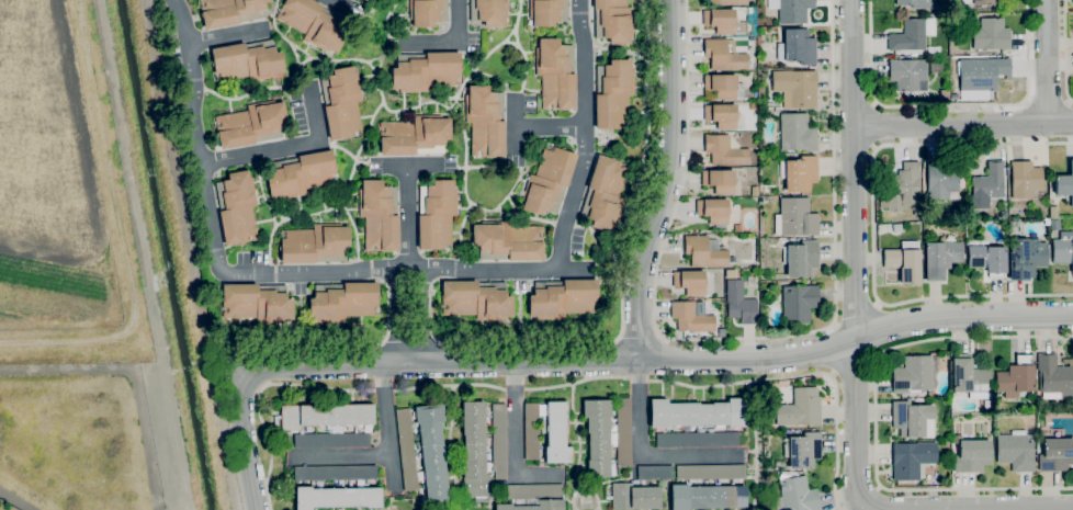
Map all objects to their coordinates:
building: (364, 0)
building: (365, 0)
road: (334, 2)
building: (728, 2)
building: (983, 2)
building: (916, 3)
road: (589, 9)
building: (749, 10)
building: (230, 11)
building: (793, 11)
building: (492, 12)
building: (547, 12)
building: (428, 13)
building: (613, 21)
building: (723, 21)
building: (314, 23)
building: (912, 34)
building: (991, 34)
road: (224, 36)
road: (452, 42)
building: (797, 47)
road: (1065, 53)
building: (723, 55)
building: (247, 61)
road: (1047, 61)
building: (425, 71)
building: (556, 72)
building: (982, 72)
building: (906, 73)
building: (721, 86)
building: (797, 87)
building: (613, 93)
building: (944, 94)
building: (341, 102)
road: (947, 105)
building: (753, 106)
building: (721, 115)
building: (485, 121)
building: (252, 124)
road: (963, 124)
road: (516, 125)
road: (551, 126)
road: (874, 126)
building: (797, 133)
road: (197, 135)
building: (415, 136)
road: (585, 136)
road: (289, 147)
building: (724, 150)
road: (410, 167)
building: (799, 173)
building: (300, 174)
building: (1025, 179)
building: (942, 180)
building: (547, 181)
road: (667, 181)
building: (719, 181)
building: (987, 183)
building: (1065, 183)
building: (903, 186)
park: (83, 192)
building: (605, 193)
building: (237, 207)
building: (713, 211)
building: (1053, 212)
building: (437, 214)
building: (379, 215)
road: (407, 217)
building: (795, 217)
road: (872, 225)
building: (1053, 225)
building: (737, 227)
building: (896, 227)
building: (507, 241)
building: (315, 243)
building: (1063, 249)
building: (704, 251)
road: (855, 254)
building: (940, 258)
building: (1025, 258)
building: (802, 259)
building: (986, 259)
building: (903, 263)
road: (614, 267)
road: (391, 268)
building: (690, 282)
building: (562, 298)
building: (477, 299)
building: (342, 301)
building: (257, 303)
building: (739, 303)
building: (799, 303)
road: (396, 315)
road: (420, 316)
road: (856, 316)
building: (690, 317)
building: (721, 331)
road: (639, 337)
road: (737, 339)
road: (309, 341)
road: (381, 344)
road: (440, 344)
road: (410, 345)
road: (833, 349)
road: (733, 359)
road: (854, 365)
road: (316, 369)
building: (913, 375)
building: (969, 377)
building: (1015, 377)
building: (1053, 377)
road: (485, 385)
building: (800, 408)
building: (697, 415)
building: (325, 417)
road: (876, 419)
building: (913, 419)
building: (275, 427)
road: (389, 430)
building: (531, 431)
building: (555, 432)
building: (623, 432)
road: (577, 434)
building: (1057, 434)
building: (598, 437)
building: (331, 440)
road: (515, 440)
building: (697, 440)
building: (498, 441)
road: (837, 442)
road: (247, 444)
road: (756, 445)
road: (450, 446)
building: (406, 449)
building: (802, 450)
road: (748, 451)
building: (1016, 451)
building: (431, 452)
building: (474, 452)
building: (1055, 454)
building: (972, 455)
road: (342, 456)
road: (642, 456)
building: (912, 458)
building: (710, 472)
building: (335, 473)
building: (655, 473)
building: (643, 483)
road: (584, 489)
building: (534, 490)
building: (797, 495)
building: (632, 496)
building: (337, 497)
building: (707, 497)
building: (535, 506)
road: (455, 509)
road: (1023, 509)

